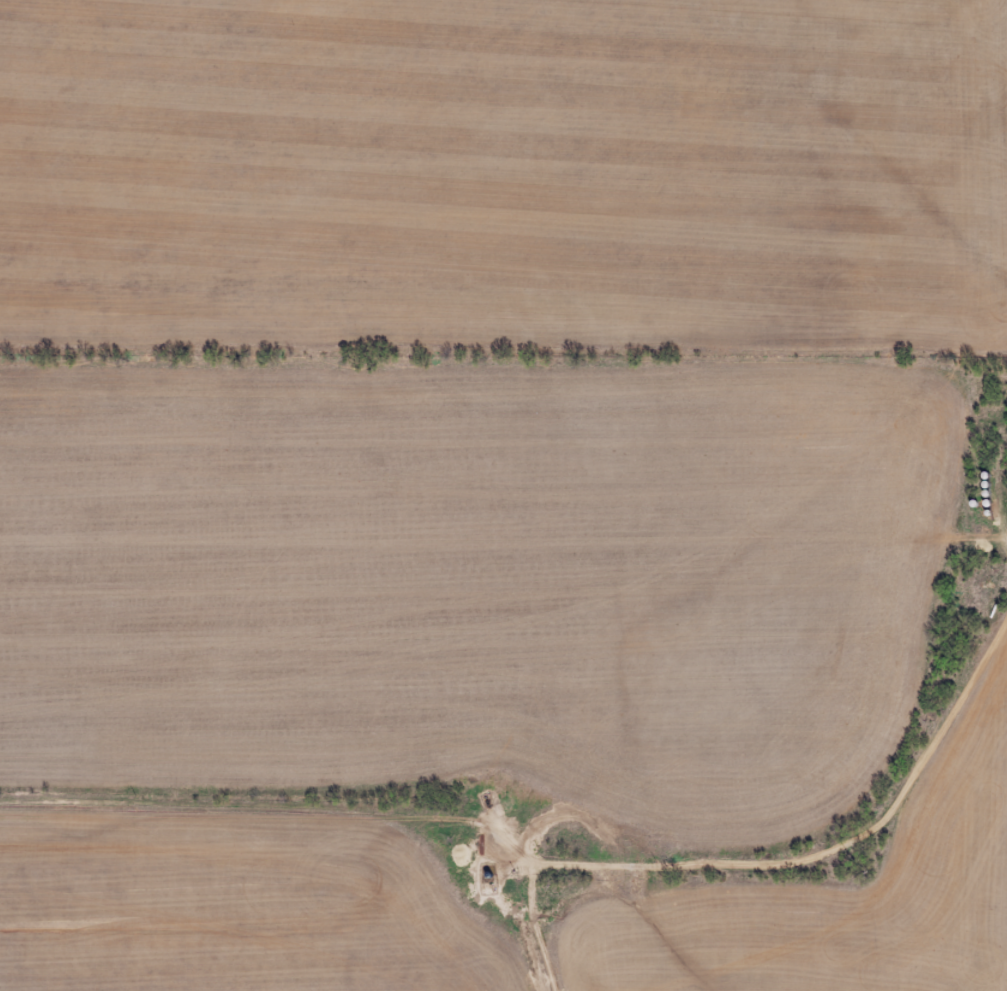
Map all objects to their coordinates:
road: (860, 867)

